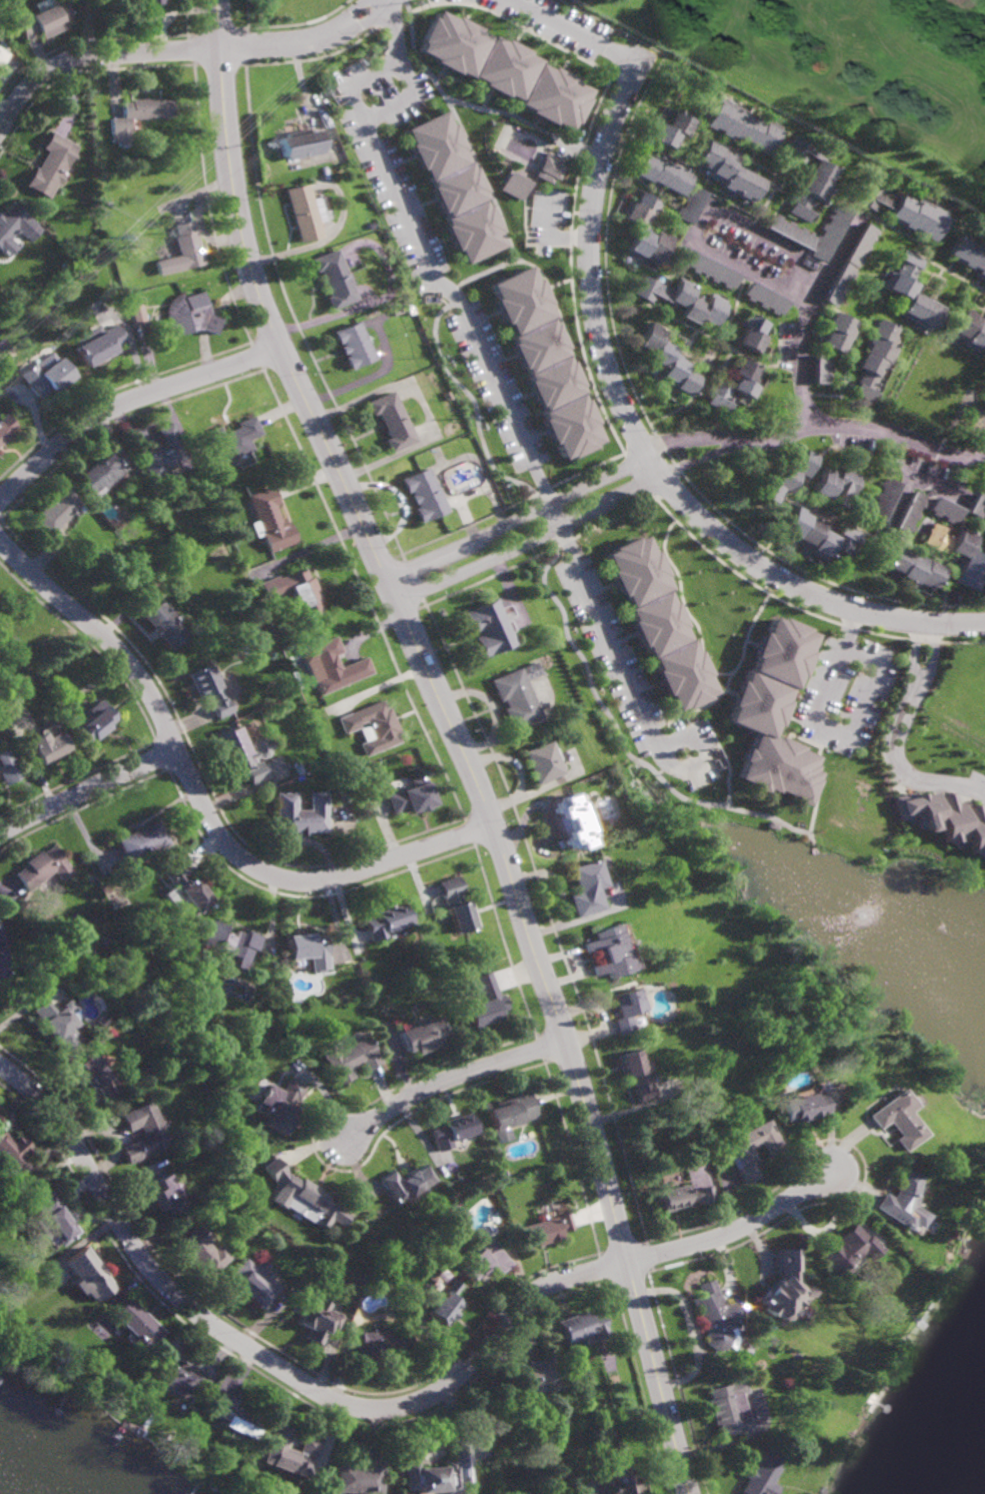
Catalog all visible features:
building: (141, 1)
park: (290, 9)
building: (41, 19)
road: (301, 22)
road: (246, 23)
road: (582, 31)
road: (181, 51)
building: (1, 55)
building: (504, 69)
road: (353, 80)
road: (419, 81)
building: (755, 109)
road: (502, 113)
building: (137, 116)
building: (742, 125)
building: (673, 129)
building: (297, 143)
building: (51, 164)
building: (547, 168)
building: (729, 171)
building: (663, 174)
building: (810, 177)
building: (513, 186)
building: (451, 187)
road: (611, 193)
building: (693, 205)
building: (904, 210)
building: (303, 212)
building: (11, 222)
road: (696, 231)
building: (830, 231)
building: (647, 232)
building: (791, 232)
power tower: (98, 237)
road: (421, 246)
building: (860, 246)
building: (181, 251)
building: (969, 255)
building: (64, 266)
building: (709, 268)
building: (331, 279)
building: (840, 285)
building: (913, 293)
building: (767, 299)
building: (683, 300)
building: (406, 309)
building: (394, 310)
road: (806, 313)
building: (137, 314)
building: (189, 314)
building: (970, 331)
building: (839, 333)
building: (753, 334)
building: (352, 345)
building: (100, 346)
building: (876, 360)
building: (667, 362)
building: (543, 364)
building: (824, 369)
building: (46, 376)
building: (736, 386)
road: (127, 401)
building: (388, 422)
road: (862, 425)
building: (5, 427)
road: (731, 441)
building: (234, 442)
road: (644, 447)
building: (161, 454)
road: (489, 466)
building: (99, 476)
building: (787, 479)
road: (928, 482)
building: (840, 486)
building: (984, 494)
building: (420, 496)
building: (886, 499)
building: (977, 507)
building: (55, 511)
building: (947, 511)
building: (912, 513)
road: (518, 519)
building: (269, 522)
building: (820, 535)
road: (529, 540)
building: (973, 557)
building: (912, 569)
building: (294, 590)
building: (658, 622)
building: (164, 624)
building: (483, 626)
road: (842, 626)
building: (330, 665)
road: (629, 683)
building: (211, 690)
building: (510, 693)
road: (905, 694)
road: (920, 694)
building: (774, 713)
building: (54, 724)
building: (96, 724)
building: (372, 727)
road: (850, 731)
road: (455, 742)
building: (48, 747)
building: (245, 754)
building: (537, 760)
building: (6, 768)
road: (820, 782)
road: (939, 783)
road: (87, 789)
building: (411, 797)
road: (201, 802)
building: (301, 814)
building: (948, 817)
building: (571, 821)
building: (143, 841)
building: (43, 868)
building: (186, 887)
building: (583, 888)
building: (456, 905)
building: (386, 921)
building: (230, 943)
building: (308, 951)
building: (606, 952)
building: (1, 959)
building: (274, 989)
building: (482, 1003)
building: (623, 1010)
building: (57, 1023)
building: (424, 1035)
building: (338, 1043)
building: (350, 1059)
building: (92, 1075)
building: (637, 1076)
road: (449, 1079)
building: (229, 1099)
building: (283, 1110)
building: (801, 1110)
building: (508, 1116)
building: (897, 1121)
building: (454, 1132)
building: (143, 1133)
building: (233, 1146)
building: (752, 1150)
building: (10, 1152)
building: (405, 1184)
building: (304, 1195)
building: (168, 1198)
building: (684, 1199)
building: (900, 1204)
building: (53, 1220)
building: (543, 1229)
road: (736, 1229)
building: (205, 1248)
building: (846, 1249)
building: (483, 1258)
building: (90, 1272)
building: (253, 1281)
building: (783, 1285)
building: (447, 1304)
building: (715, 1315)
building: (314, 1317)
building: (136, 1324)
building: (382, 1326)
building: (581, 1326)
road: (690, 1330)
building: (383, 1342)
road: (275, 1365)
building: (535, 1373)
building: (174, 1375)
building: (727, 1407)
building: (233, 1417)
building: (564, 1433)
building: (290, 1452)
building: (440, 1470)
building: (761, 1472)
building: (360, 1475)
building: (625, 1482)

